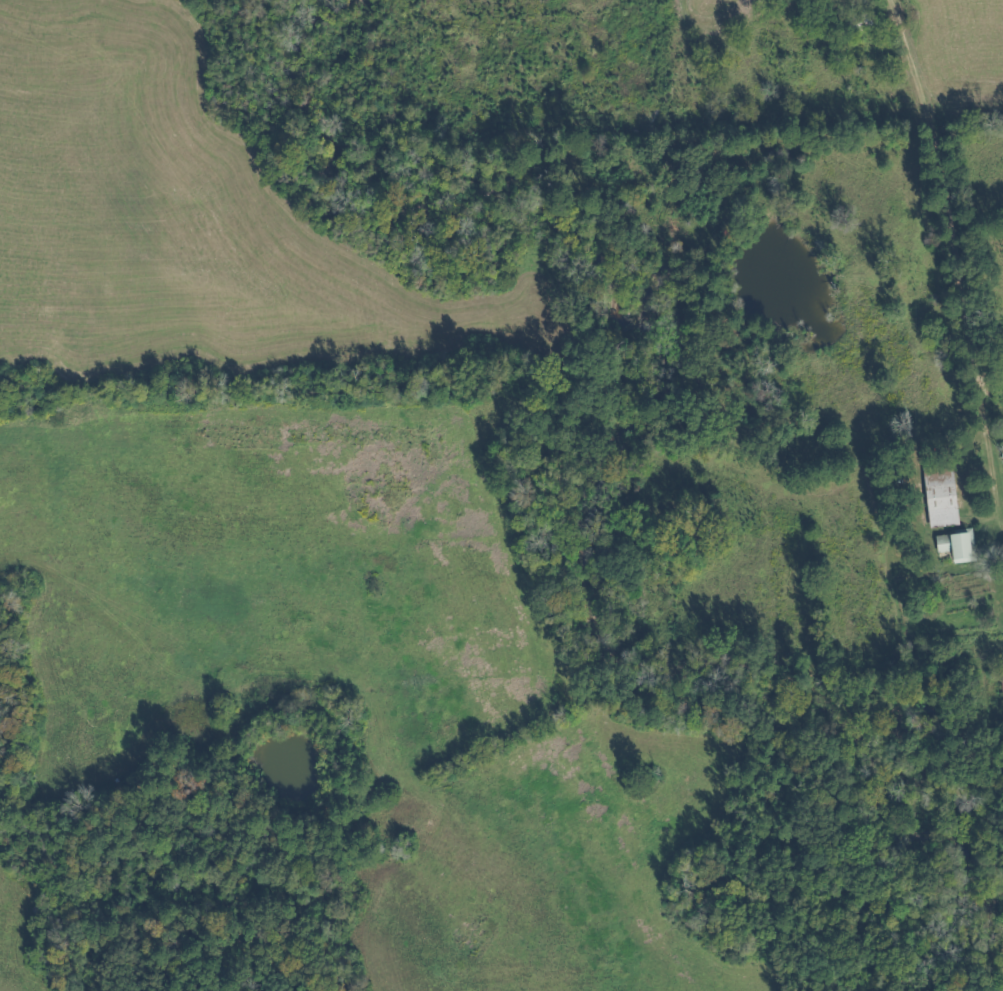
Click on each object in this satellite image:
building: (858, 21)
building: (939, 497)
building: (954, 545)
building: (1000, 676)

